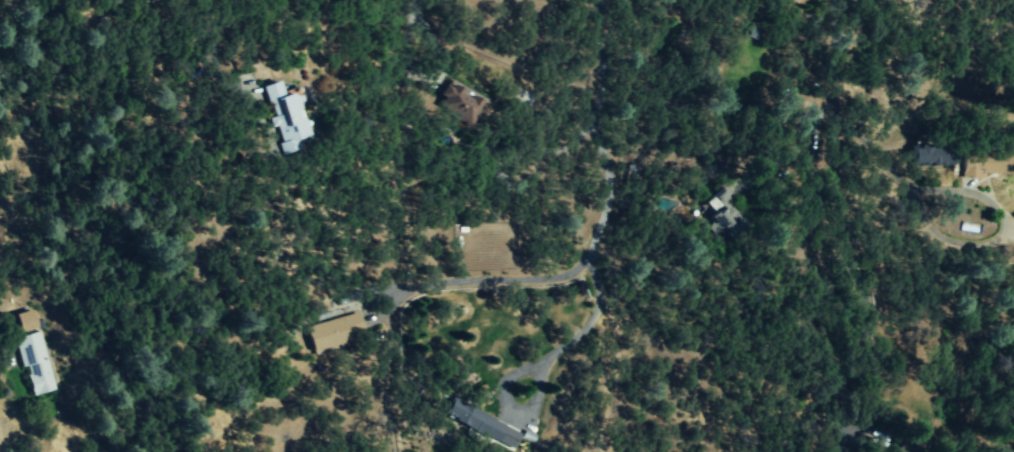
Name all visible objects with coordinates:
road: (217, 31)
building: (461, 100)
building: (296, 117)
road: (830, 125)
road: (594, 132)
road: (794, 148)
building: (932, 153)
building: (986, 163)
building: (737, 186)
road: (975, 194)
building: (721, 214)
road: (480, 279)
building: (28, 320)
road: (588, 322)
building: (337, 332)
building: (35, 363)
building: (482, 423)

